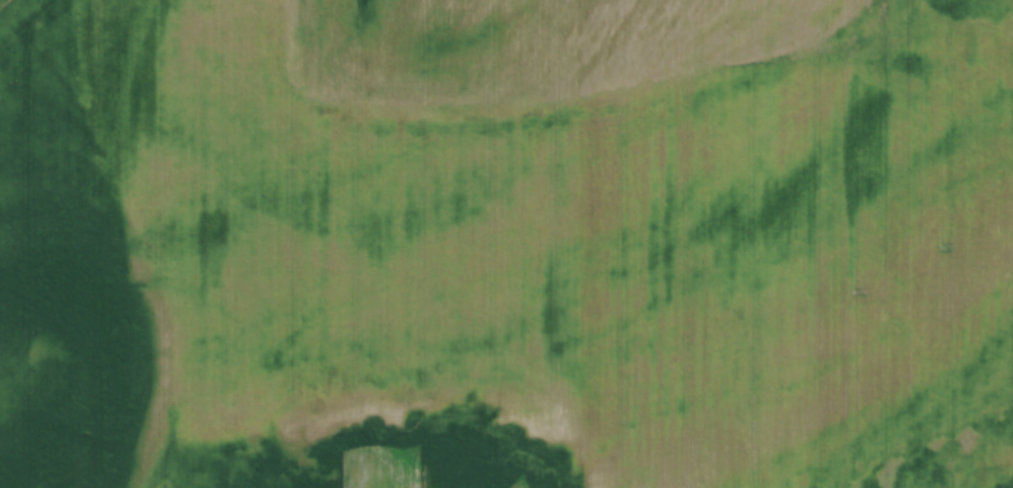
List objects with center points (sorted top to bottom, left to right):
road: (28, 23)

